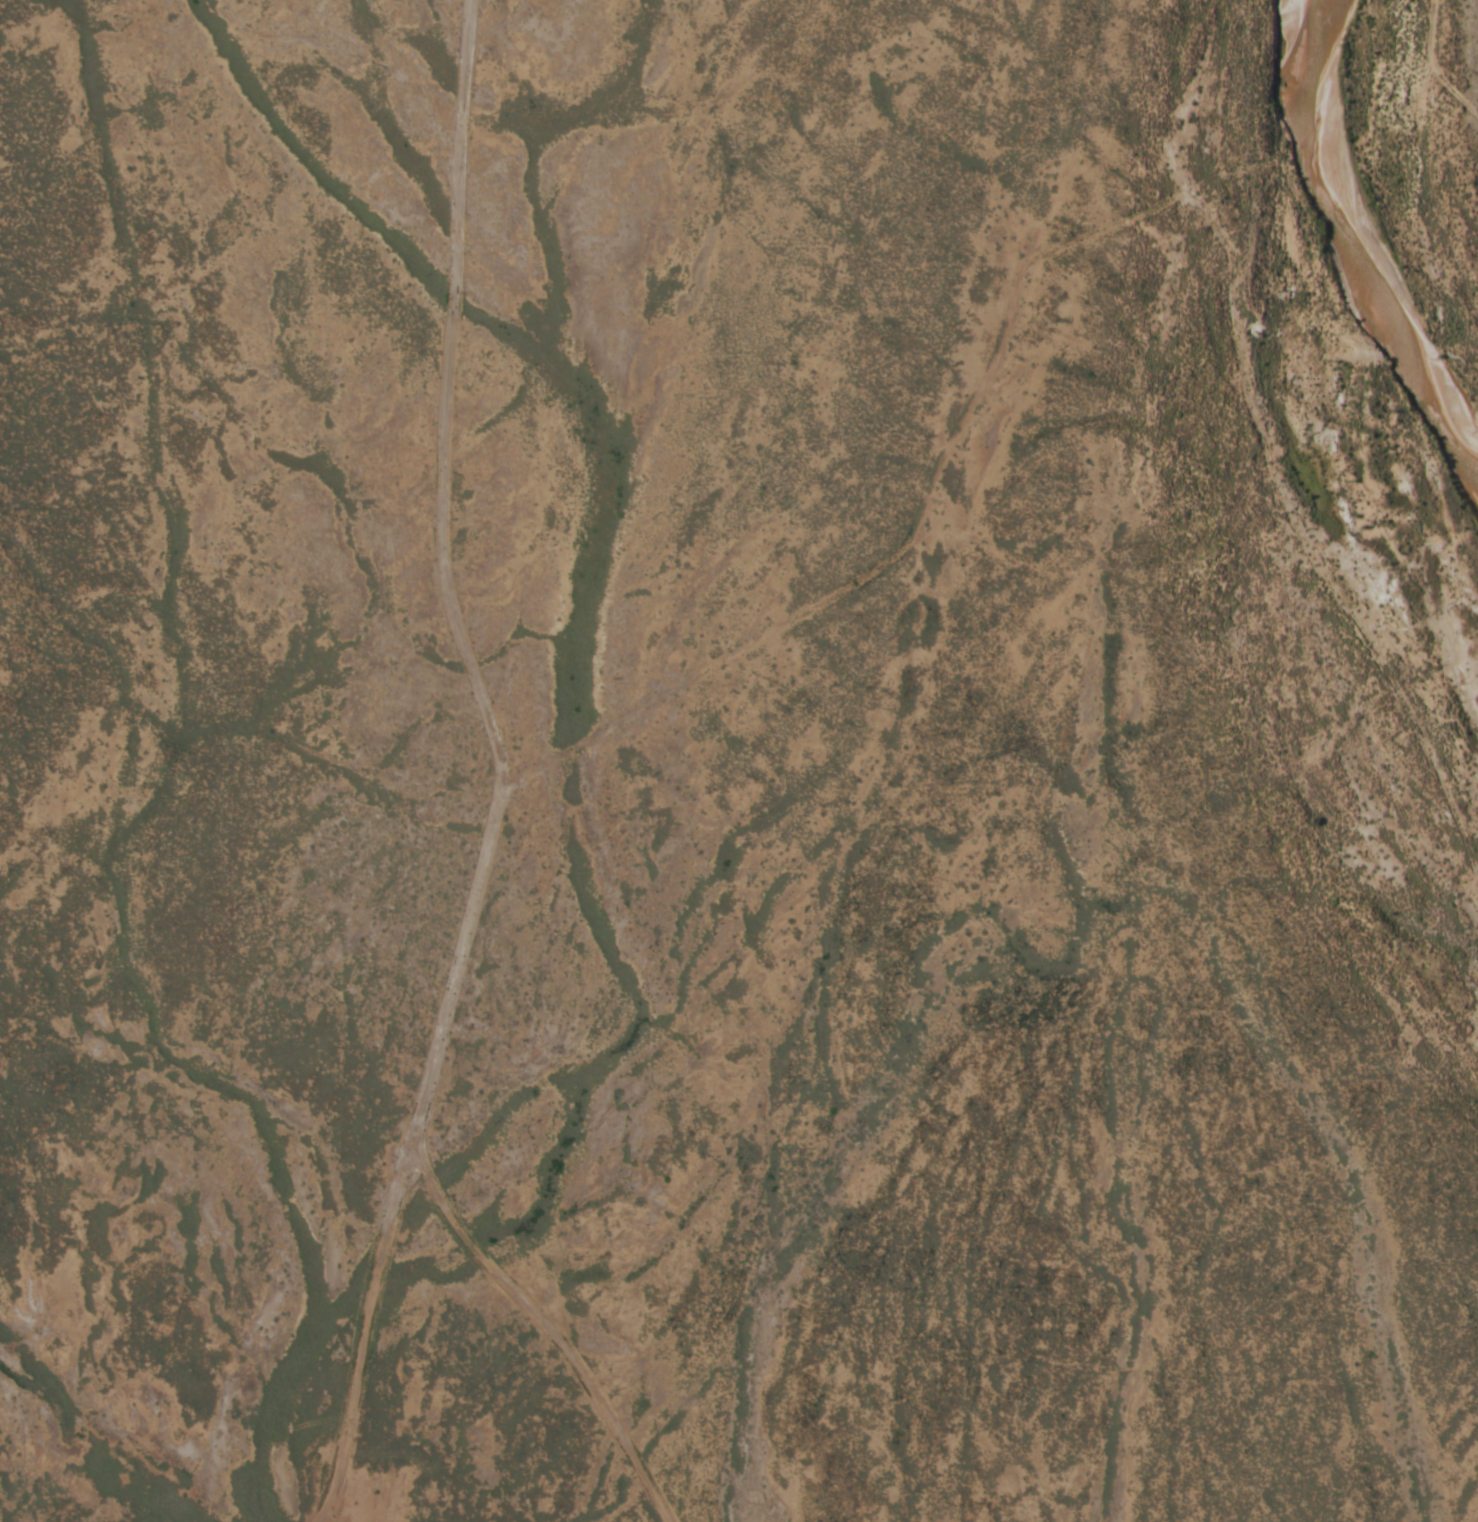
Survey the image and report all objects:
river: (1349, 249)

